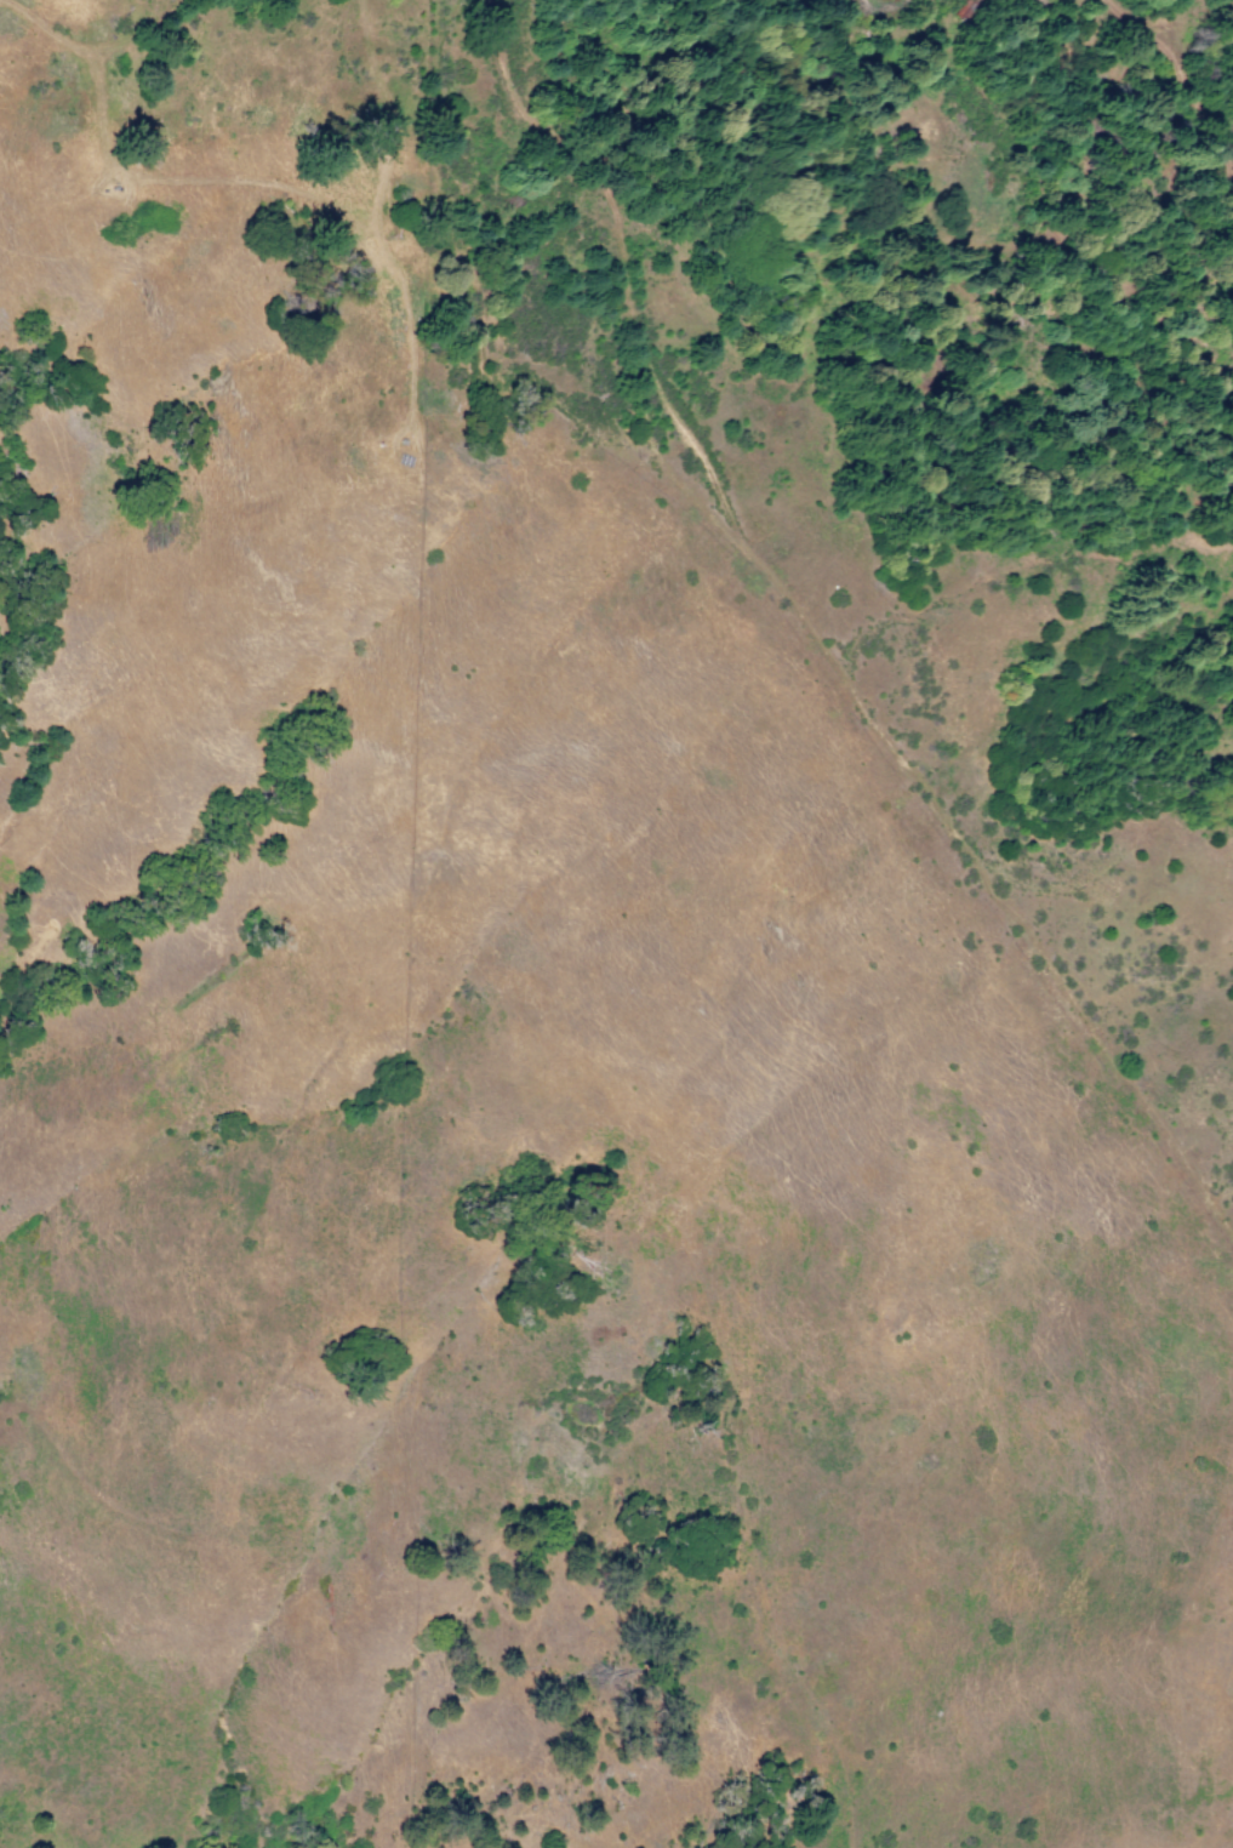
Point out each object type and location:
road: (1048, 190)
road: (1057, 977)

